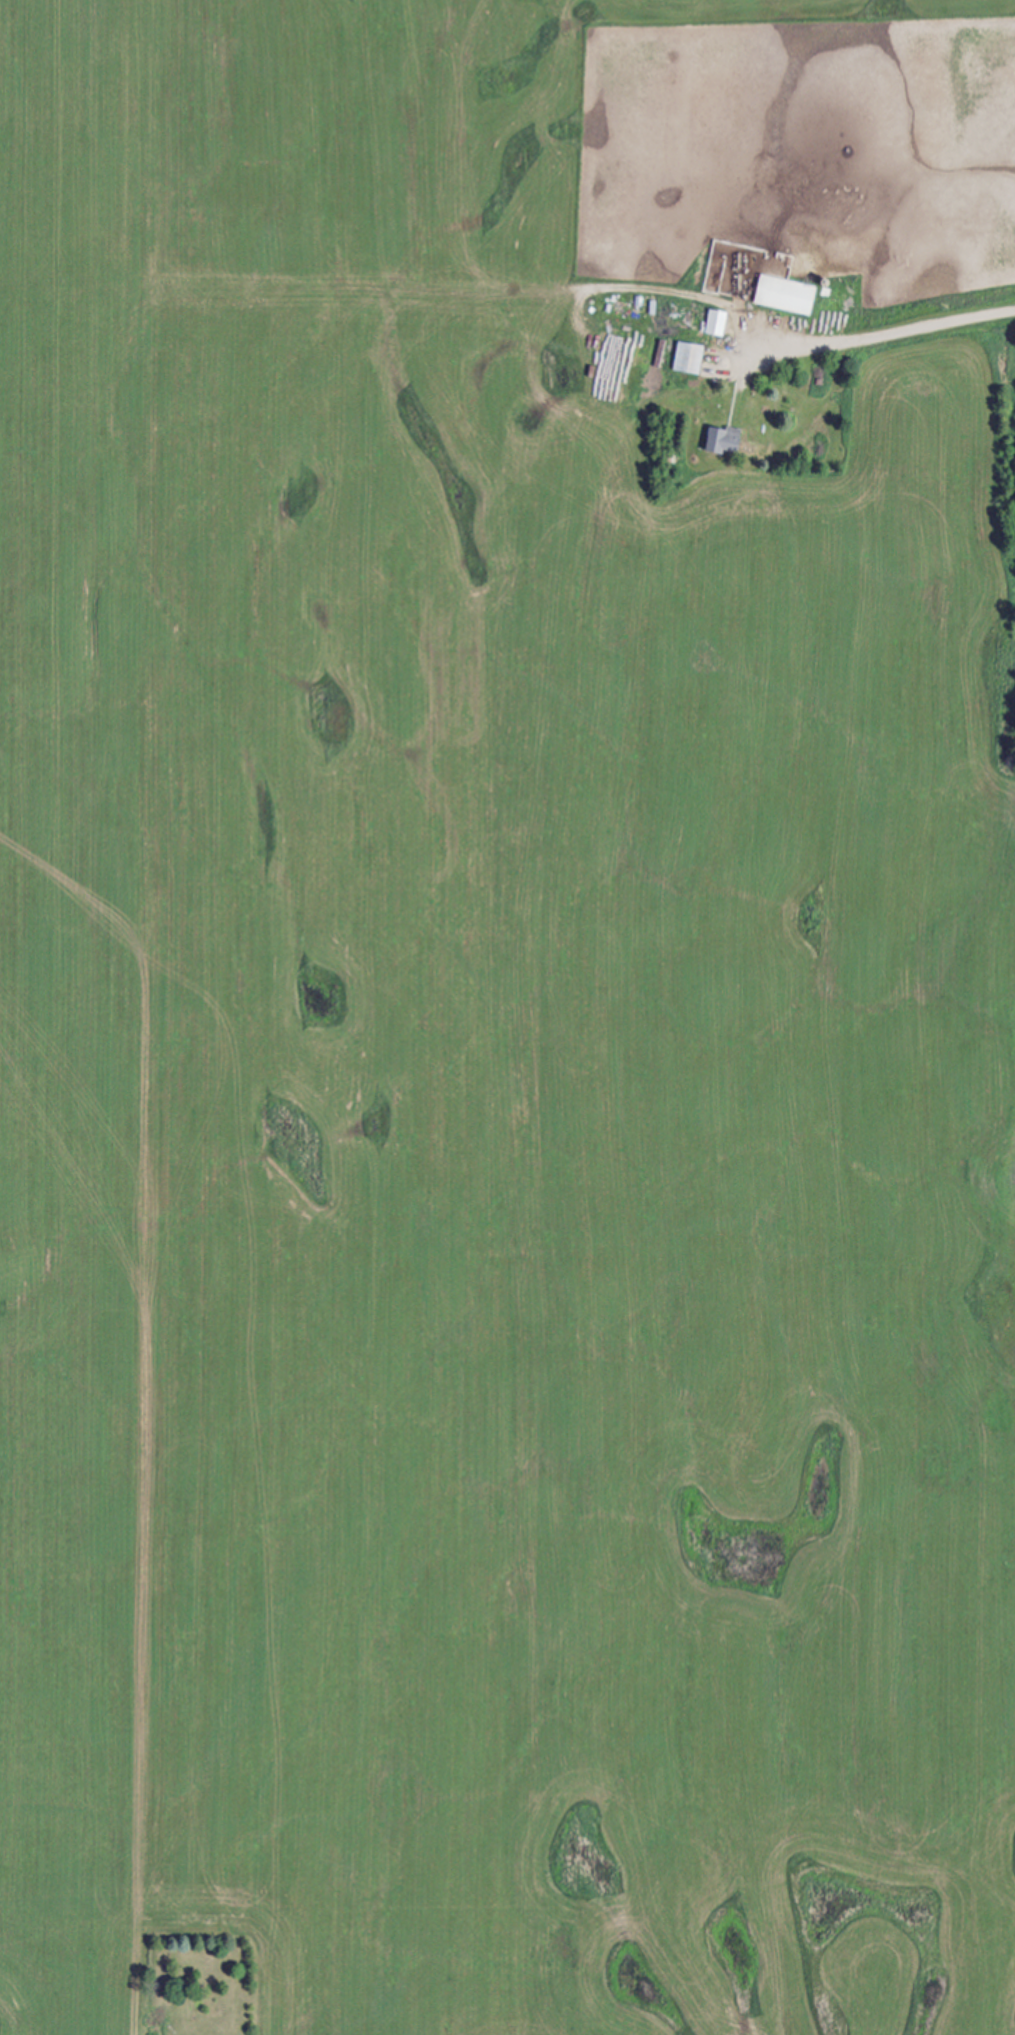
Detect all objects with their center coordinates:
building: (784, 294)
building: (715, 322)
road: (930, 323)
building: (687, 358)
building: (721, 441)

